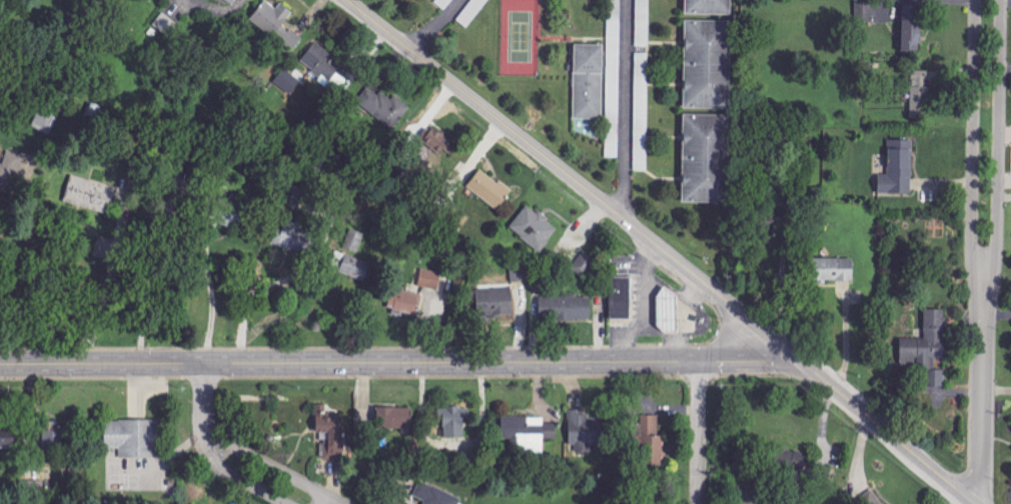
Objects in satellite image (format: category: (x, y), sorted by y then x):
building: (233, 1)
building: (444, 3)
building: (709, 7)
building: (472, 12)
building: (864, 12)
building: (276, 23)
building: (643, 23)
road: (436, 25)
building: (167, 26)
building: (912, 28)
park: (521, 39)
building: (321, 63)
building: (708, 64)
building: (614, 78)
building: (589, 81)
building: (289, 82)
building: (919, 94)
building: (384, 107)
road: (626, 108)
building: (642, 111)
building: (45, 121)
building: (439, 140)
road: (972, 146)
building: (706, 158)
building: (899, 168)
building: (11, 171)
road: (573, 180)
building: (490, 189)
building: (90, 194)
building: (297, 197)
road: (9, 203)
building: (231, 211)
building: (534, 228)
building: (770, 229)
building: (293, 236)
building: (355, 240)
road: (997, 252)
building: (350, 265)
building: (585, 265)
building: (833, 270)
road: (142, 274)
building: (518, 274)
road: (105, 275)
building: (431, 278)
road: (276, 281)
building: (621, 297)
road: (214, 300)
building: (405, 301)
building: (495, 302)
building: (567, 307)
building: (668, 310)
road: (280, 315)
road: (51, 334)
road: (723, 337)
building: (926, 341)
road: (399, 363)
building: (937, 378)
road: (203, 401)
building: (395, 418)
building: (453, 422)
building: (584, 430)
road: (887, 432)
road: (698, 433)
building: (329, 434)
building: (54, 436)
building: (133, 438)
building: (653, 441)
building: (7, 445)
road: (272, 469)
road: (233, 478)
building: (434, 495)
building: (871, 498)
road: (326, 501)

